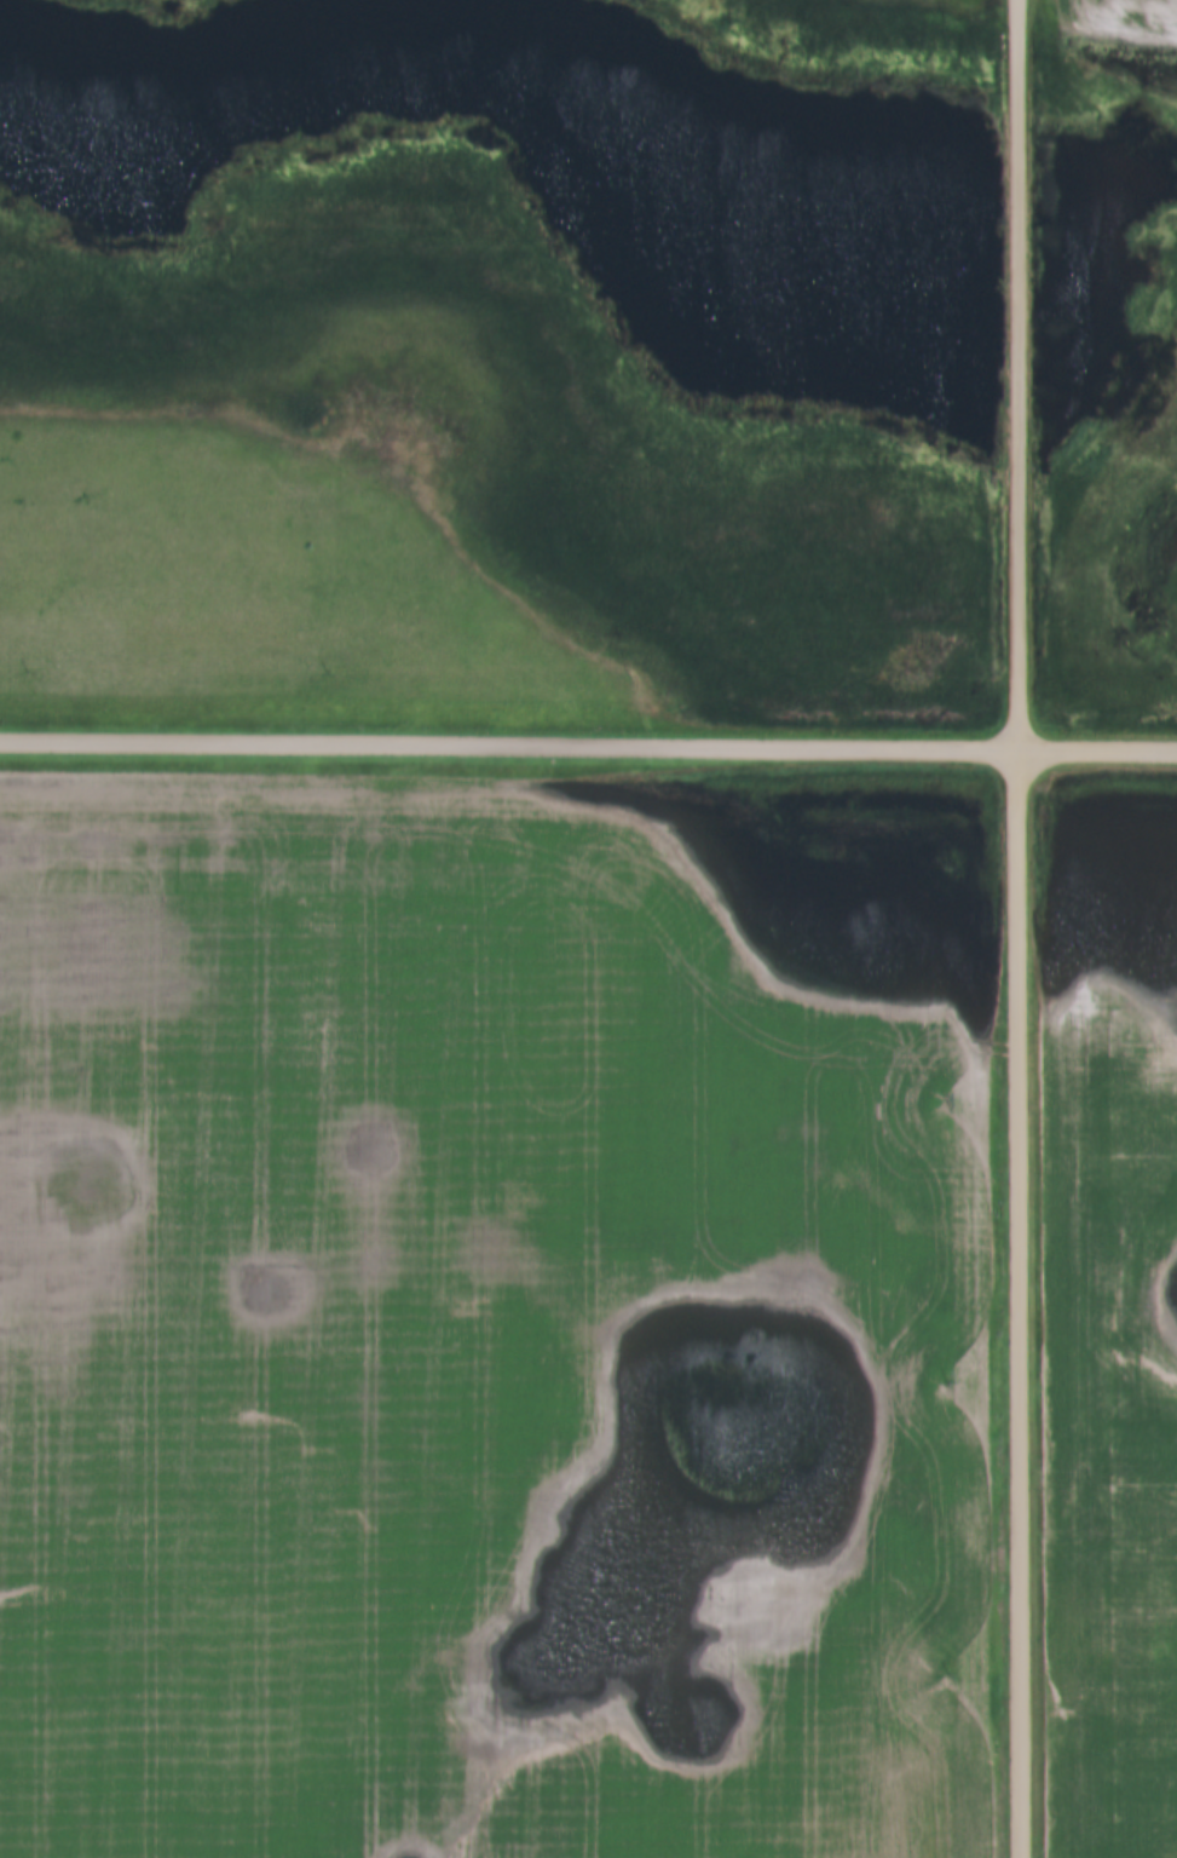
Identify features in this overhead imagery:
road: (588, 748)
road: (1016, 928)

